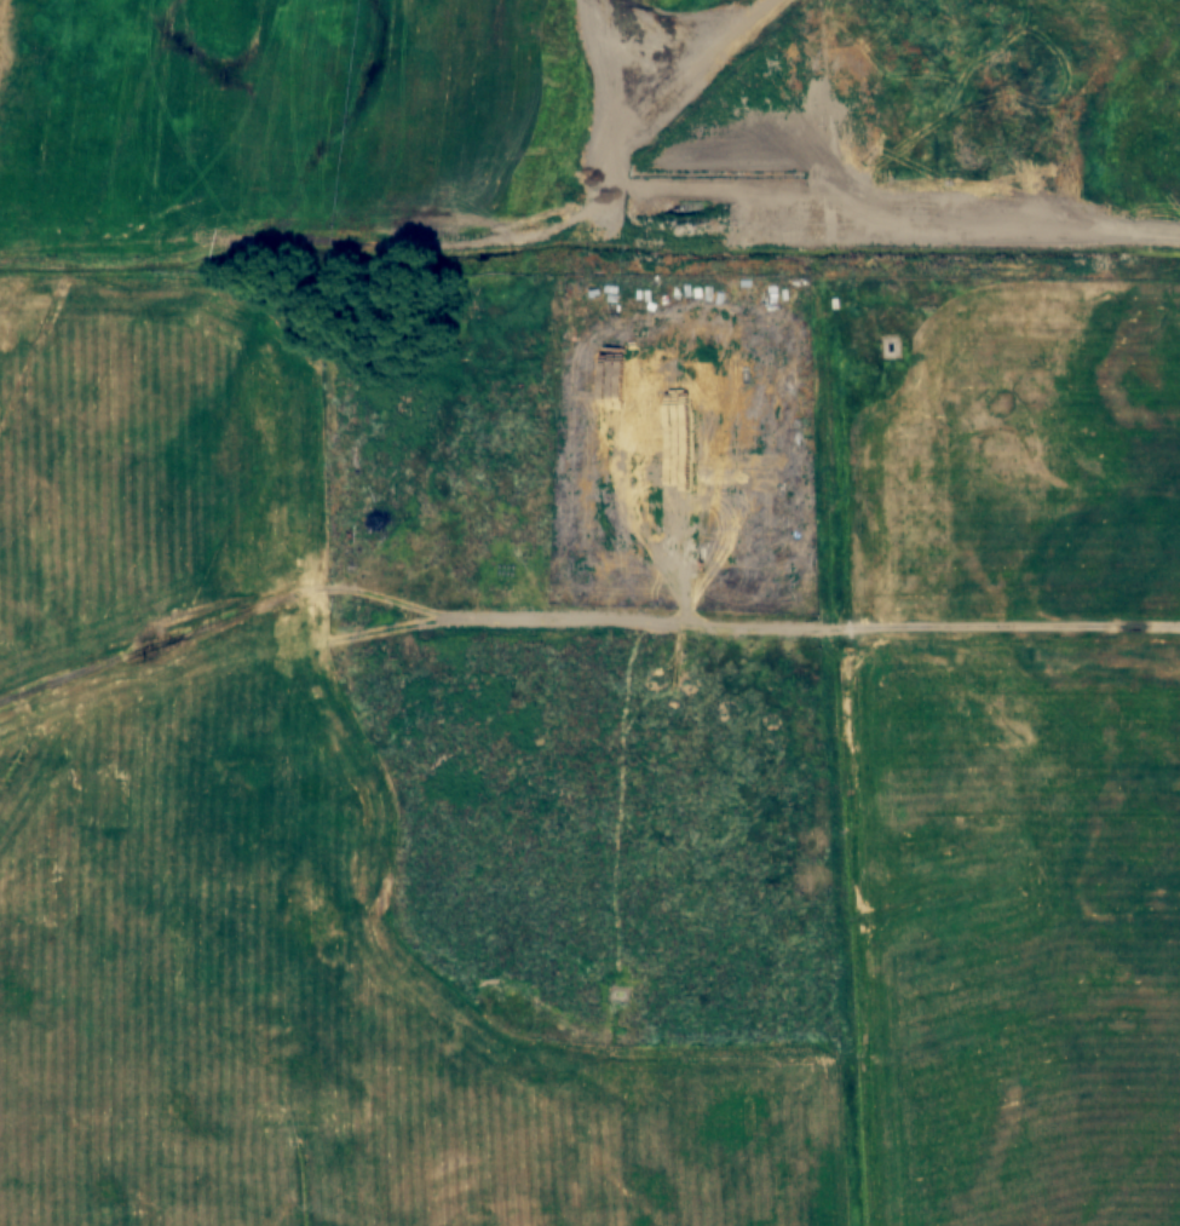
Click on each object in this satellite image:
building: (732, 522)
building: (624, 560)
road: (409, 611)
road: (1008, 629)

